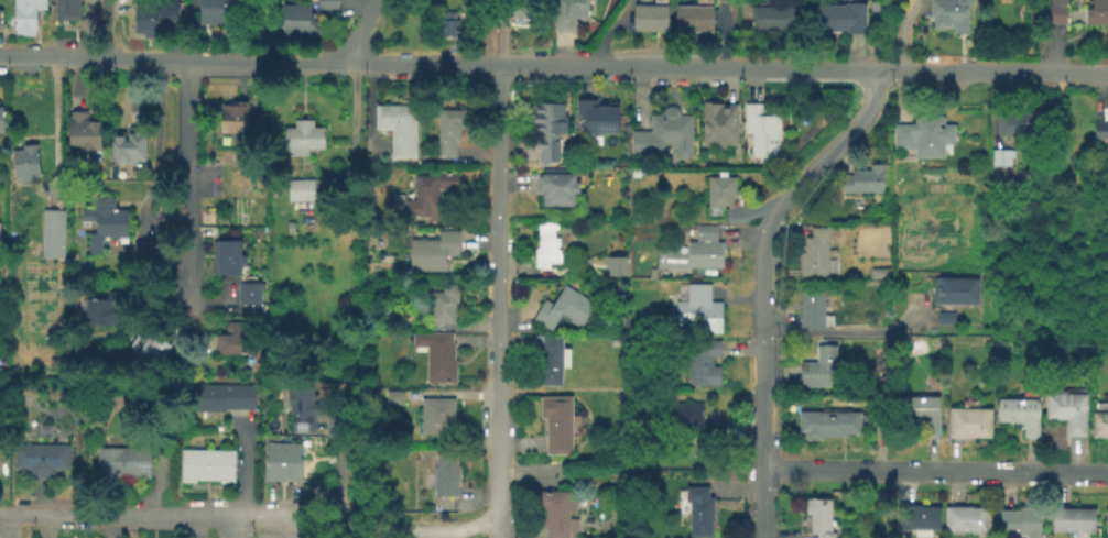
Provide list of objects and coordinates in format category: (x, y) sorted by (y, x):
building: (326, 4)
building: (524, 7)
building: (65, 9)
building: (214, 10)
building: (1056, 10)
building: (1097, 11)
building: (567, 13)
building: (948, 13)
building: (153, 14)
building: (24, 15)
building: (649, 15)
building: (770, 15)
building: (0, 17)
building: (692, 17)
building: (841, 17)
building: (295, 19)
building: (448, 22)
road: (109, 30)
road: (361, 30)
road: (904, 32)
road: (174, 61)
road: (728, 67)
building: (138, 109)
building: (596, 114)
building: (232, 116)
building: (1, 119)
building: (1021, 122)
building: (718, 124)
building: (398, 125)
building: (547, 128)
building: (447, 129)
building: (1099, 129)
road: (54, 130)
building: (760, 130)
building: (83, 132)
building: (662, 133)
building: (923, 133)
building: (302, 135)
building: (128, 147)
building: (1000, 155)
building: (24, 162)
building: (262, 172)
building: (638, 173)
building: (1087, 173)
building: (862, 178)
building: (300, 187)
building: (556, 187)
building: (719, 189)
building: (430, 191)
road: (150, 197)
road: (186, 215)
building: (101, 221)
building: (50, 232)
building: (141, 249)
building: (433, 249)
building: (694, 249)
building: (545, 251)
building: (815, 252)
building: (226, 255)
building: (615, 265)
building: (651, 272)
building: (878, 272)
road: (762, 285)
building: (953, 288)
building: (248, 292)
road: (498, 300)
building: (443, 305)
building: (698, 306)
building: (813, 306)
building: (562, 307)
building: (101, 308)
building: (945, 316)
building: (624, 322)
road: (845, 330)
building: (235, 337)
building: (149, 351)
building: (436, 354)
building: (551, 358)
building: (702, 361)
building: (819, 367)
building: (221, 395)
building: (392, 396)
building: (301, 404)
building: (1066, 409)
building: (922, 410)
building: (1019, 413)
building: (436, 414)
building: (876, 418)
building: (689, 419)
building: (1099, 419)
building: (556, 421)
building: (826, 421)
building: (968, 421)
building: (42, 427)
building: (40, 457)
building: (271, 459)
building: (108, 460)
building: (290, 460)
building: (134, 461)
building: (193, 463)
building: (219, 463)
road: (339, 468)
road: (245, 469)
building: (445, 472)
road: (935, 472)
building: (699, 509)
building: (556, 513)
building: (817, 516)
road: (159, 517)
building: (920, 517)
building: (965, 517)
building: (1072, 518)
building: (1106, 519)
building: (1020, 520)
road: (235, 528)
road: (408, 532)

